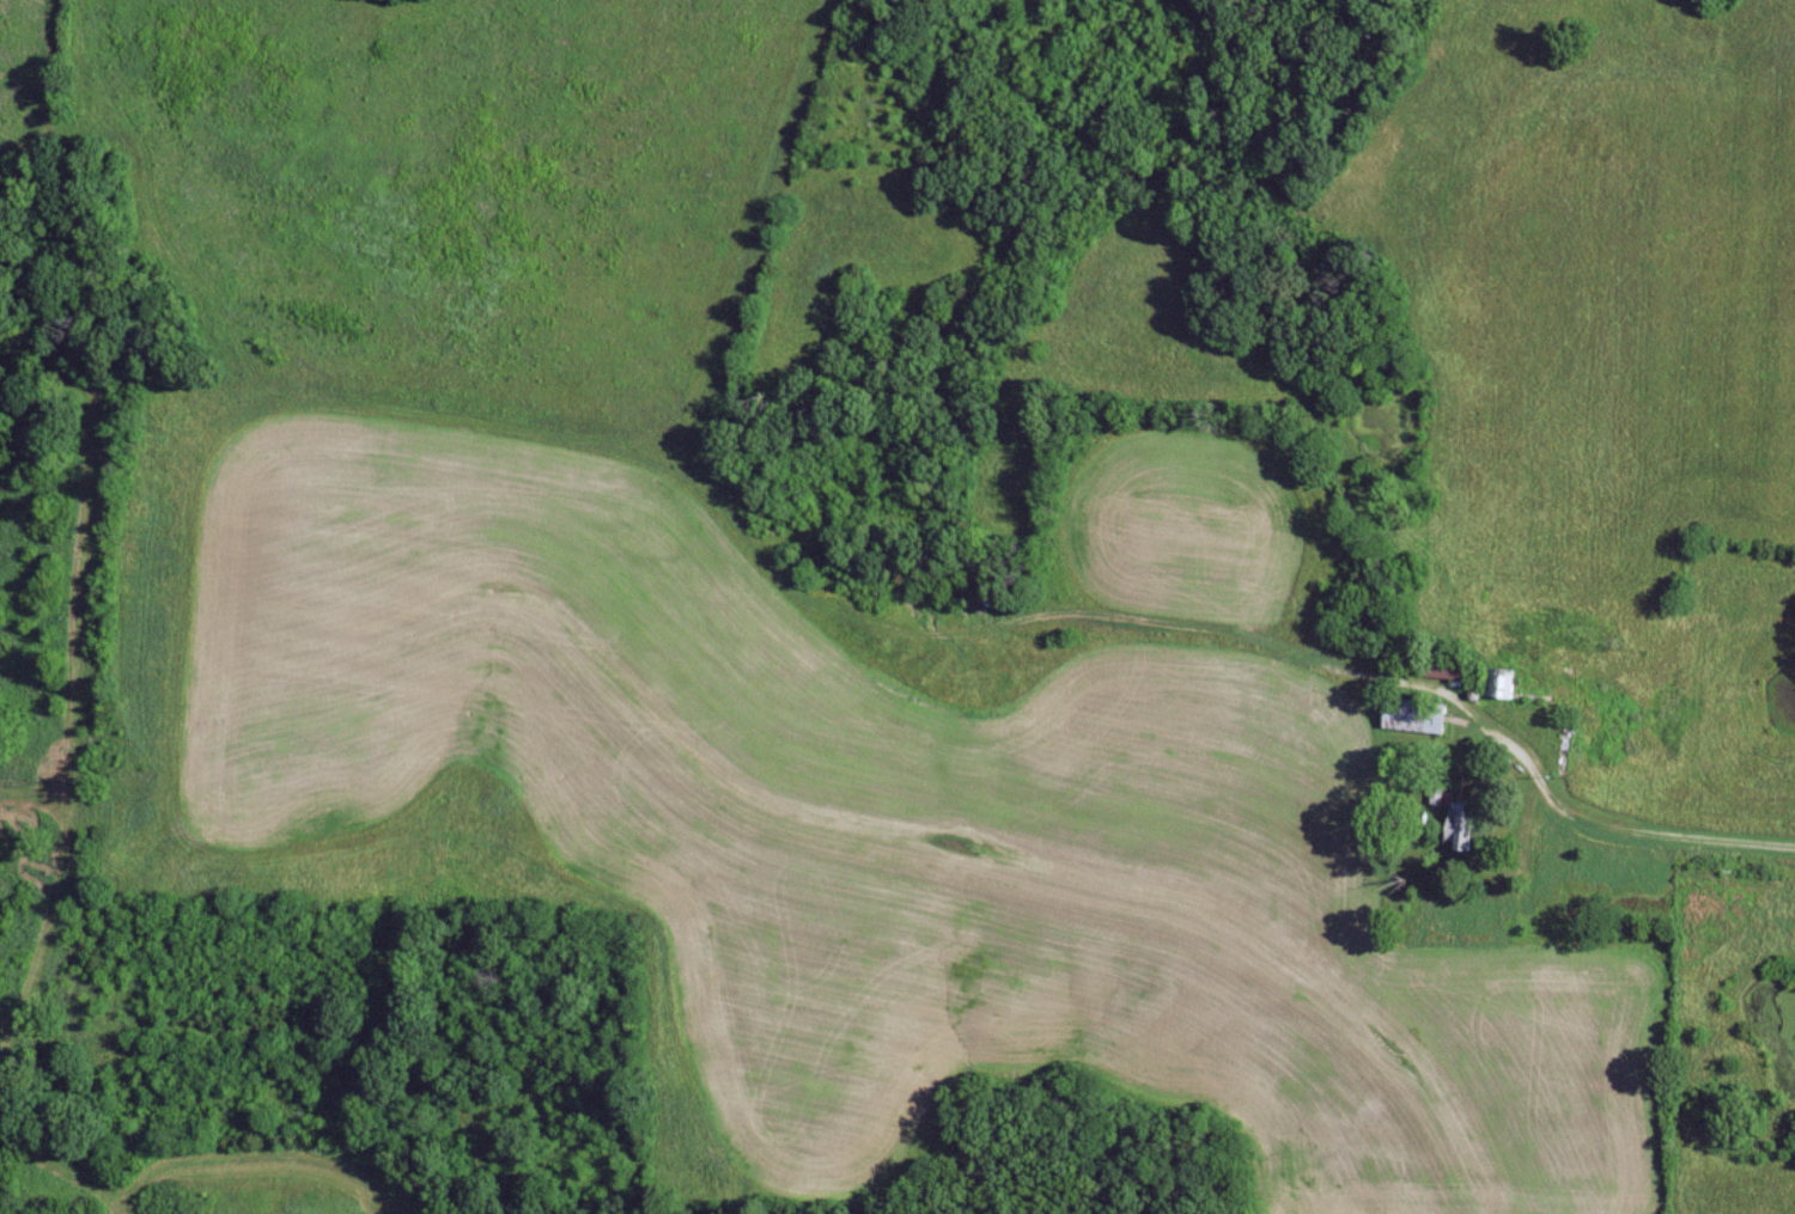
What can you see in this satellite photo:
building: (1443, 667)
building: (1502, 683)
building: (1417, 716)
building: (1460, 820)
road: (1595, 826)

